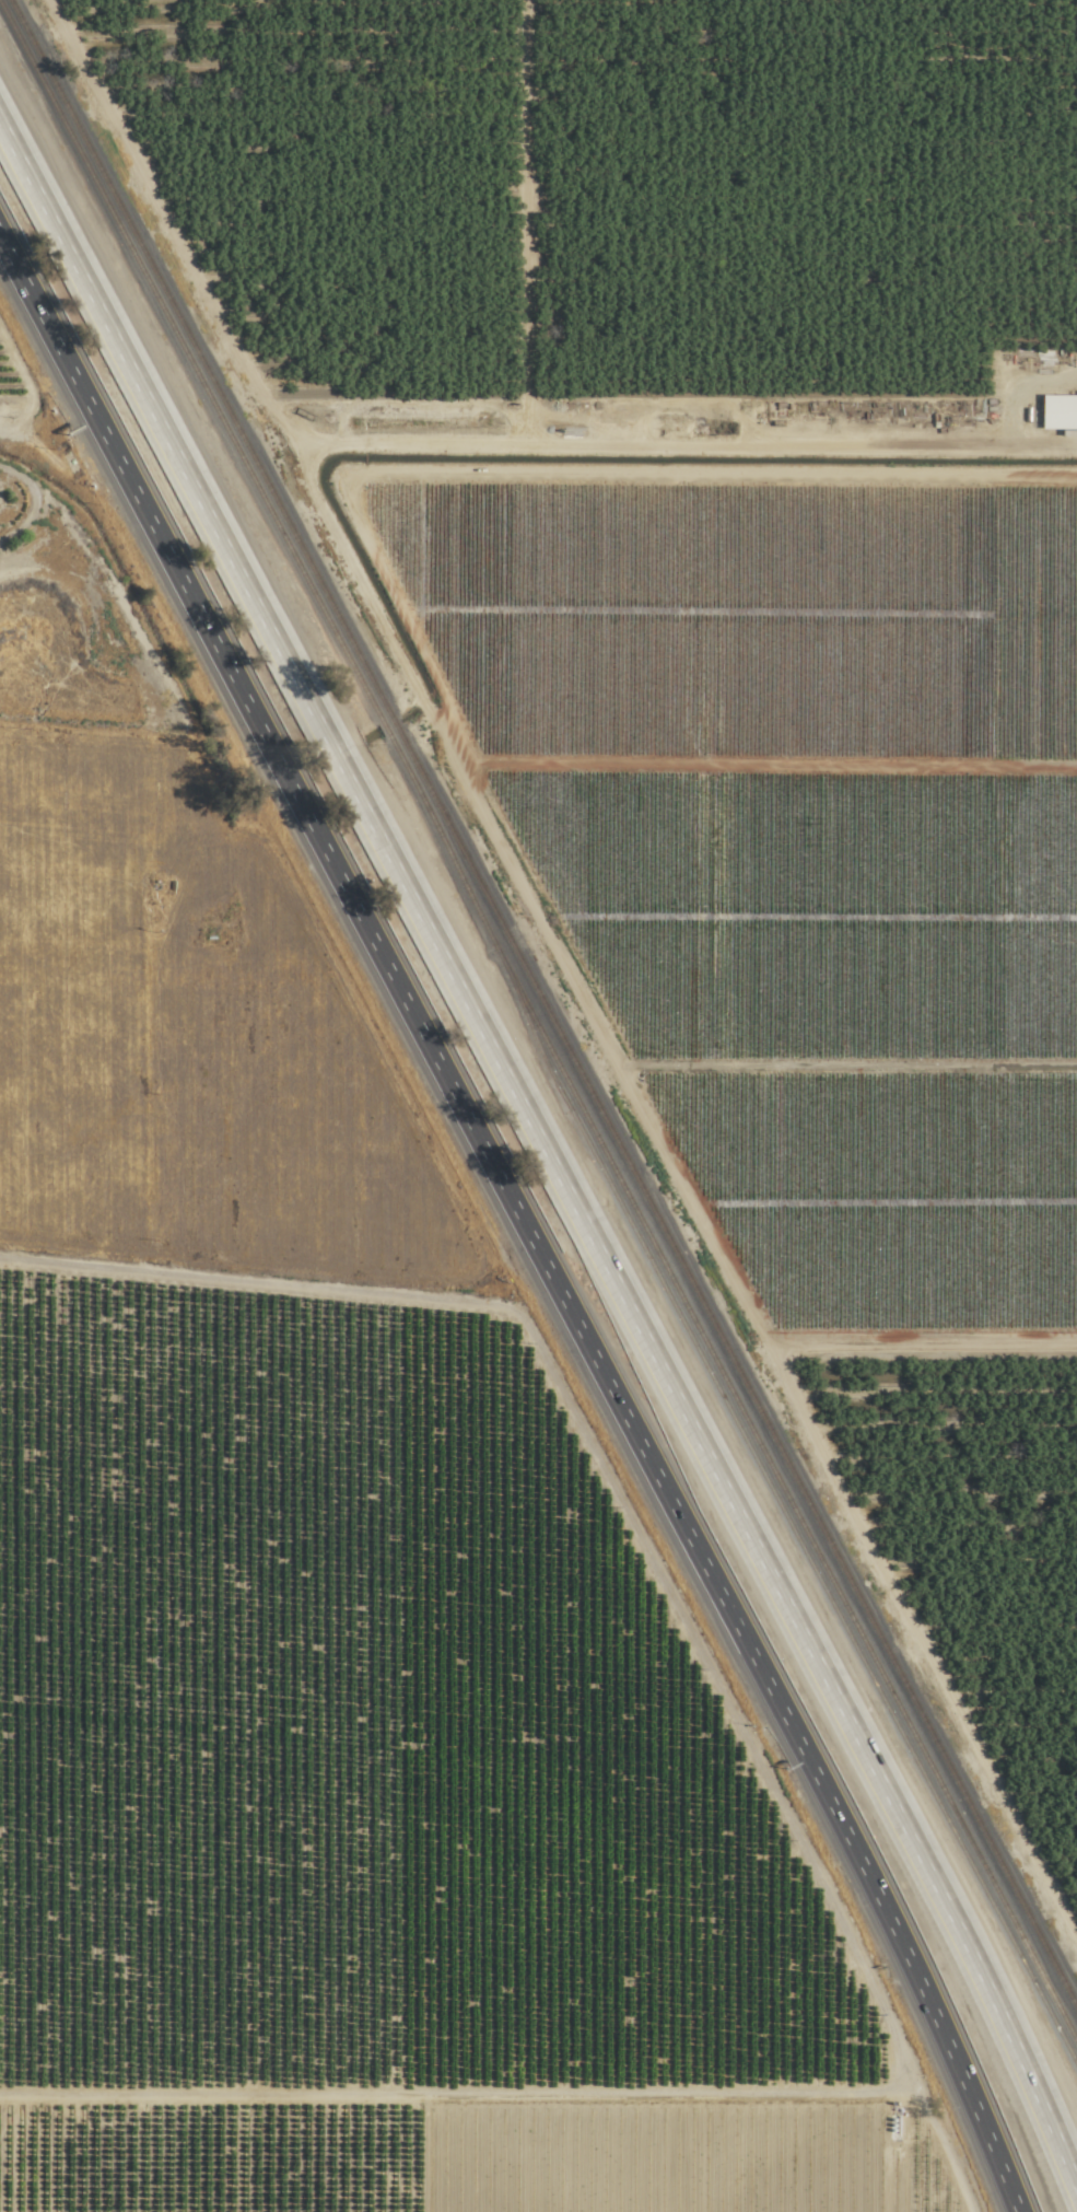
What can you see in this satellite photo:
crop: (39, 351)
building: (1055, 410)
road: (693, 447)
road: (33, 501)
railway: (541, 1006)
railway: (535, 1032)
road: (546, 1156)
road: (516, 1224)
railway: (782, 1514)
crop: (329, 1604)
road: (472, 2102)

